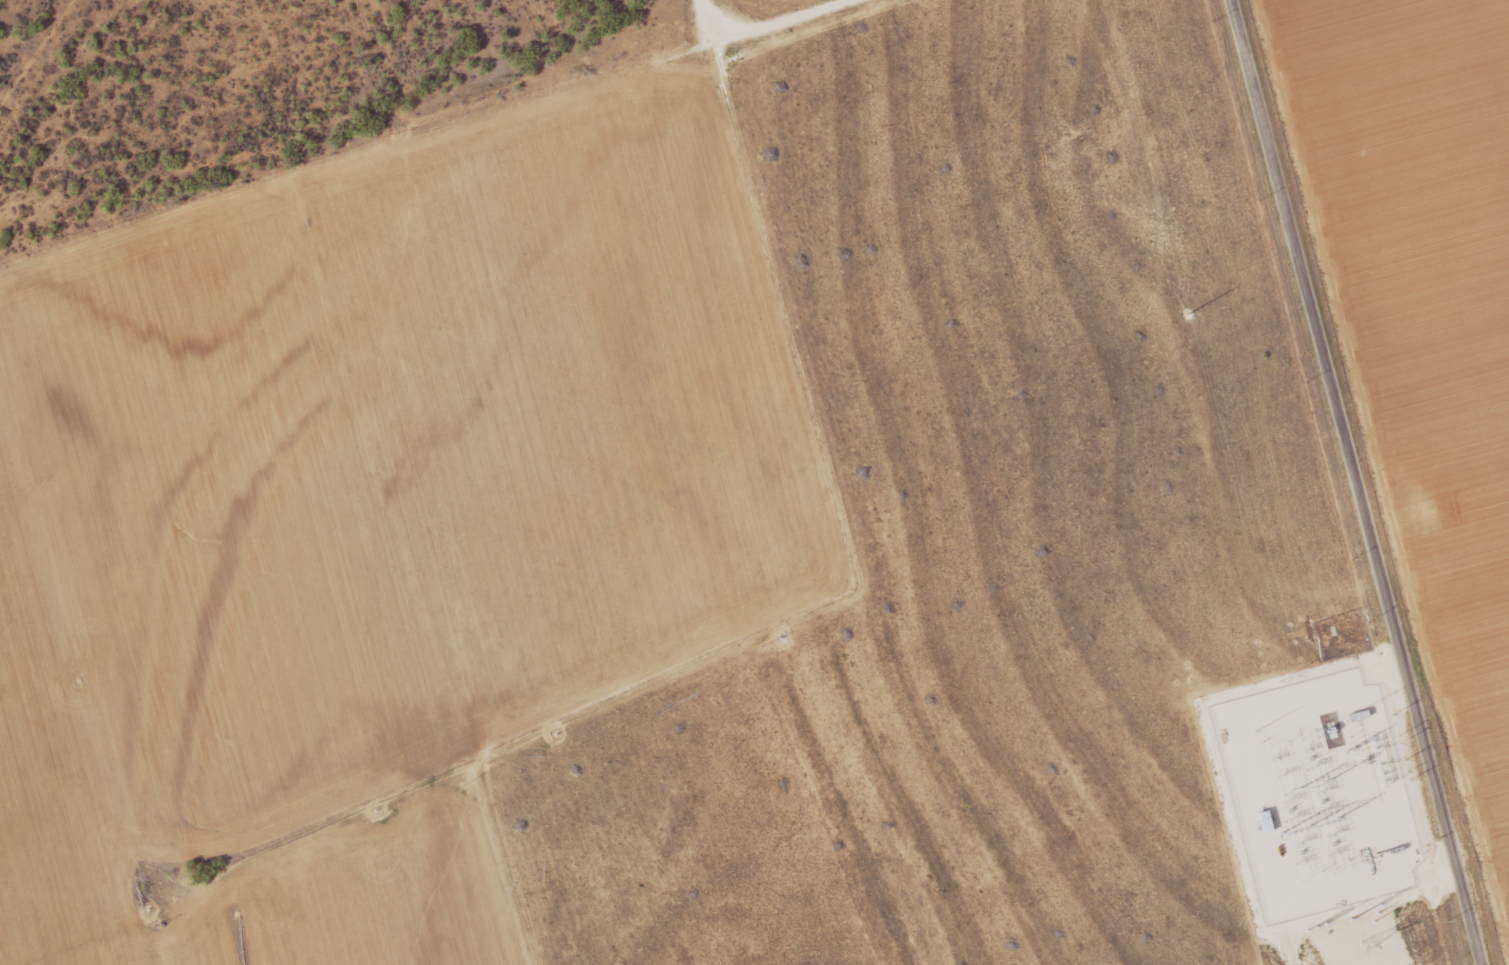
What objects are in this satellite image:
power tower: (1189, 314)
road: (1359, 482)
road: (810, 644)
power tower: (1290, 680)
building: (1360, 715)
power substation: (1331, 767)
power tower: (1312, 768)
power tower: (1302, 785)
power tower: (1319, 796)
power tower: (1250, 799)
power tower: (1353, 854)
power tower: (1299, 892)
power tower: (1370, 943)

